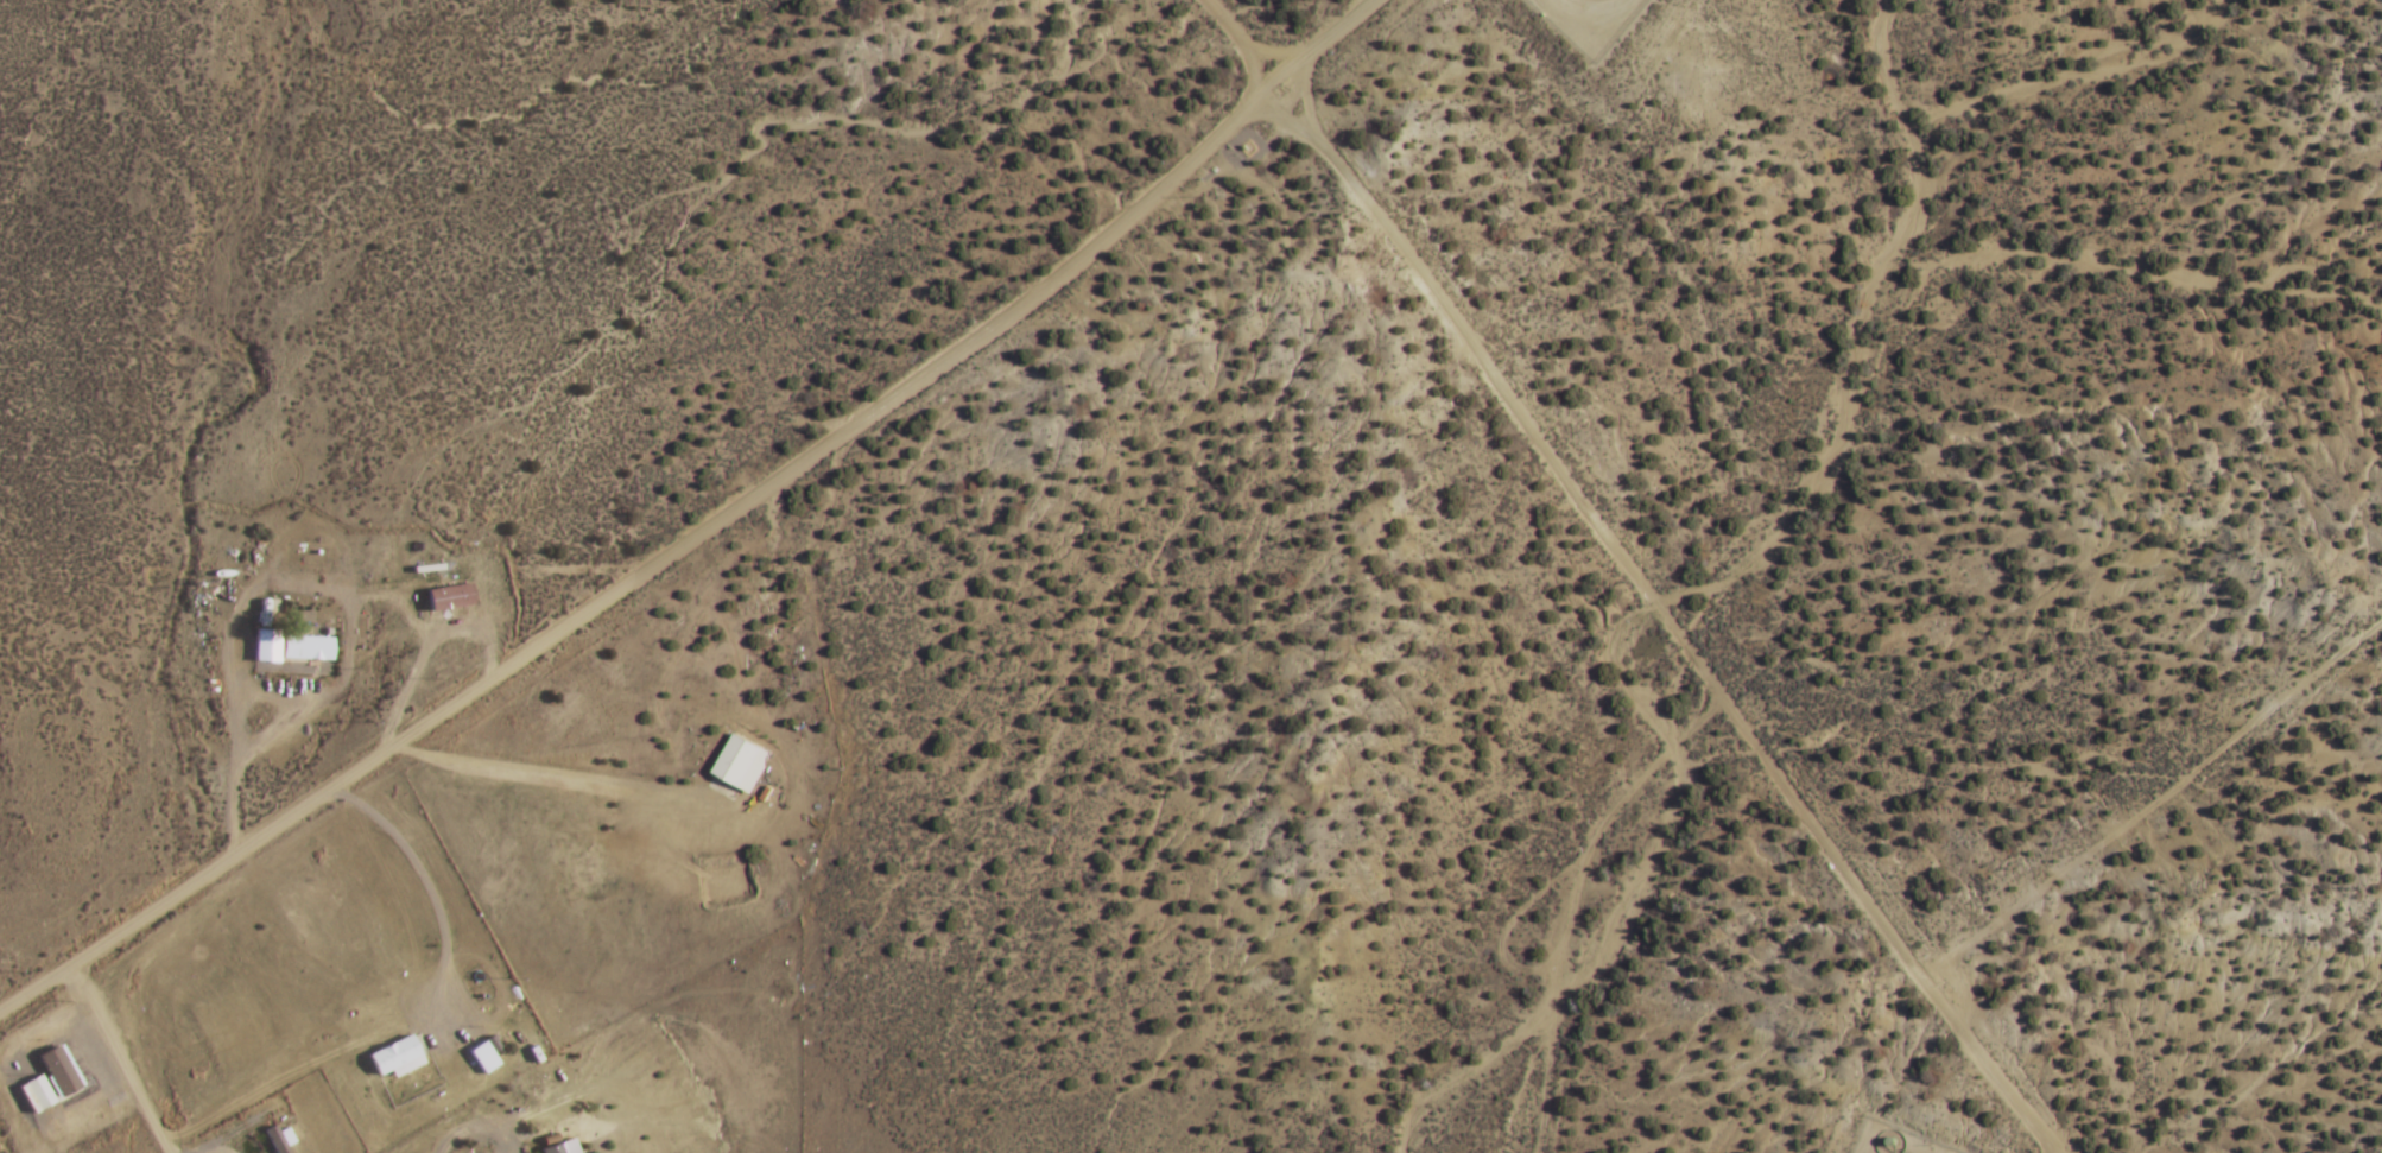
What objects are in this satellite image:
road: (1576, 0)
road: (1233, 43)
road: (1261, 47)
road: (1291, 90)
road: (696, 525)
road: (1649, 613)
building: (268, 645)
building: (309, 647)
building: (726, 762)
road: (537, 769)
road: (2019, 894)
road: (1559, 899)
road: (429, 914)
road: (1496, 924)
building: (382, 1057)
road: (109, 1058)
building: (474, 1060)
building: (49, 1072)
building: (38, 1094)
building: (26, 1096)
road: (463, 1134)
building: (265, 1140)
road: (203, 1148)
road: (2044, 1148)
building: (544, 1151)

